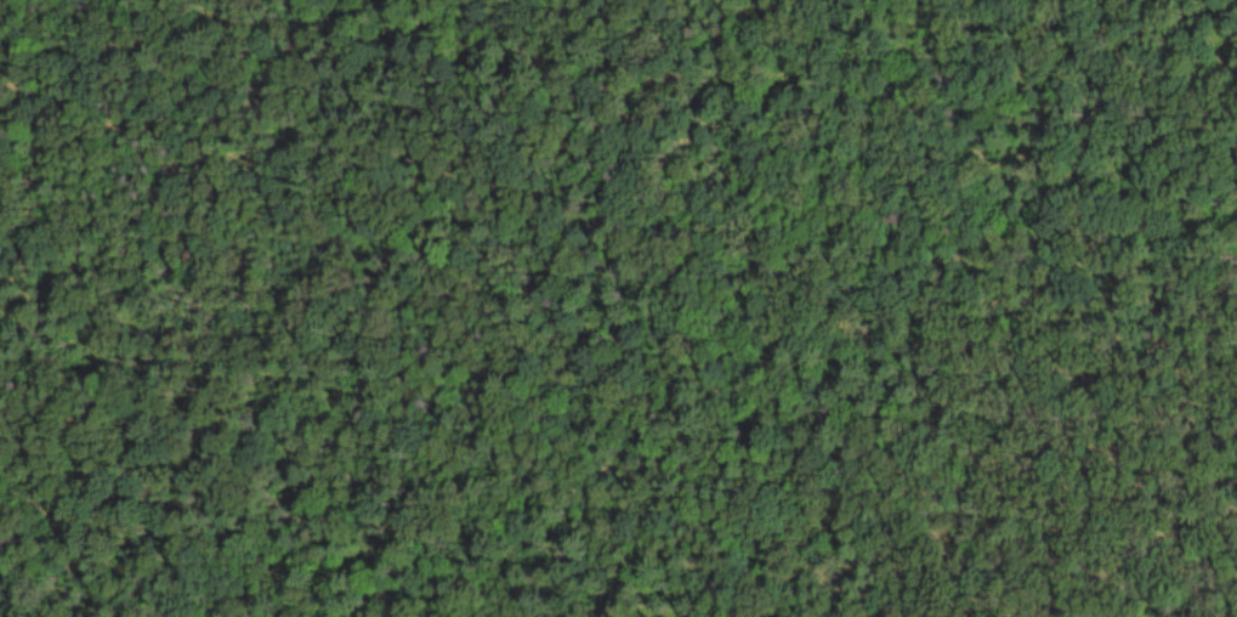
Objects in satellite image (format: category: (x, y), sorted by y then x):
road: (824, 308)

